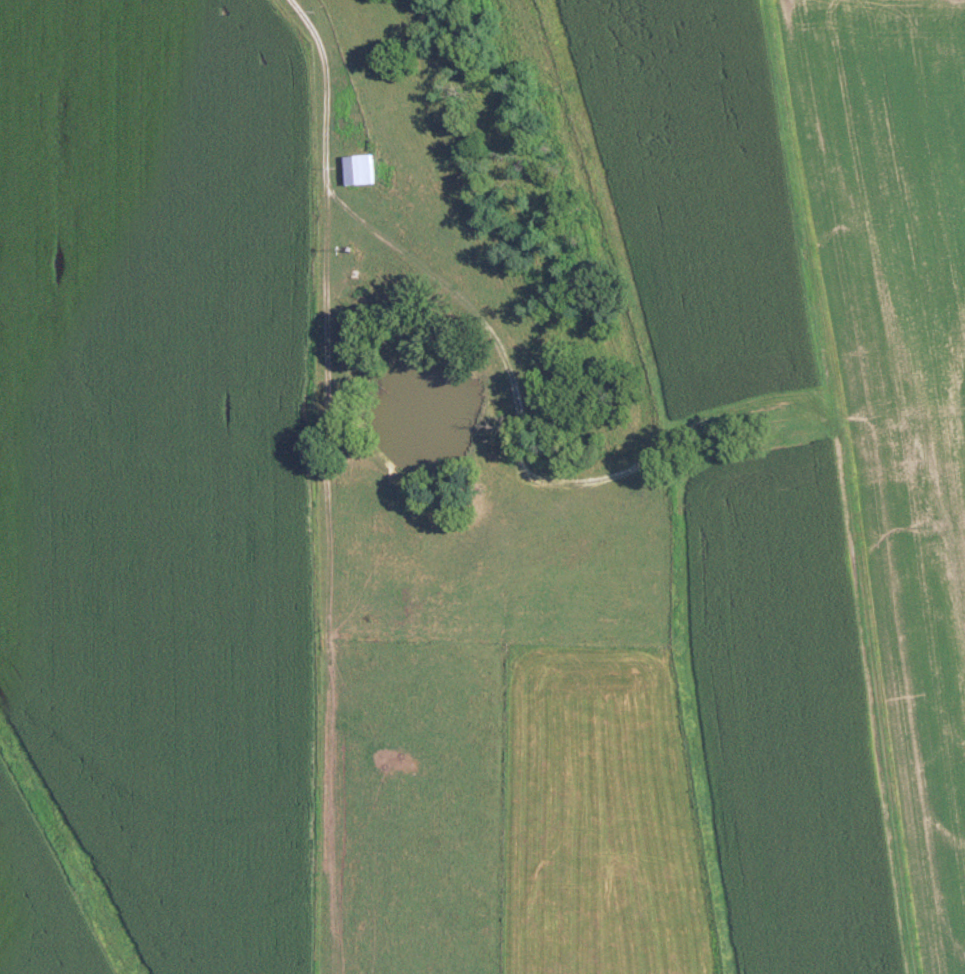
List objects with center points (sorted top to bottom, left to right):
road: (335, 78)
building: (365, 167)

